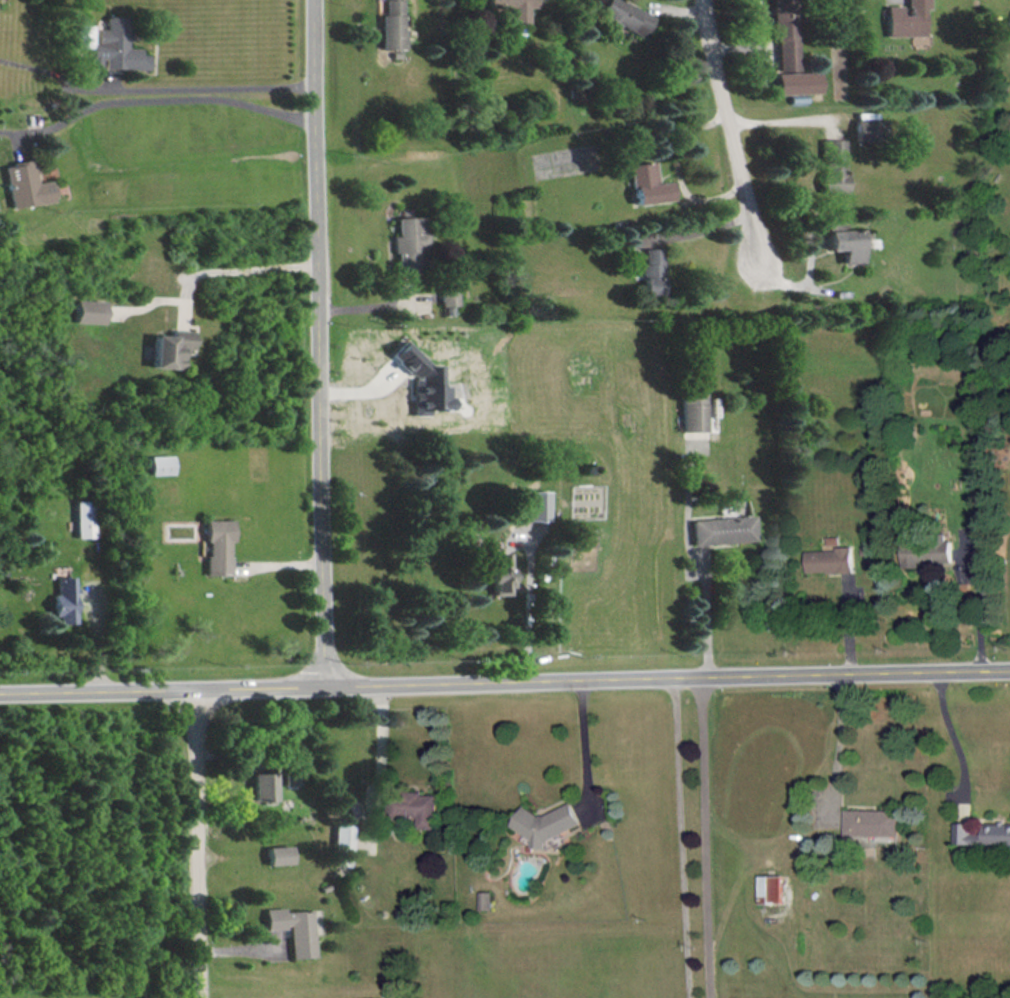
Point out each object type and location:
building: (625, 15)
building: (906, 19)
building: (392, 26)
building: (786, 35)
building: (111, 44)
building: (797, 82)
road: (154, 88)
road: (165, 99)
road: (781, 120)
road: (728, 127)
building: (867, 129)
building: (832, 165)
building: (27, 184)
building: (647, 184)
building: (407, 240)
building: (843, 241)
road: (236, 271)
building: (652, 271)
building: (447, 294)
road: (373, 305)
building: (87, 310)
road: (317, 343)
building: (169, 347)
building: (420, 381)
building: (691, 411)
building: (159, 464)
building: (533, 504)
building: (82, 518)
building: (719, 529)
building: (584, 539)
building: (215, 545)
building: (929, 551)
building: (831, 559)
building: (495, 573)
building: (61, 599)
road: (528, 613)
road: (706, 620)
road: (505, 683)
road: (956, 737)
road: (583, 740)
road: (840, 741)
road: (379, 744)
building: (289, 778)
building: (260, 787)
building: (419, 807)
building: (872, 821)
building: (548, 823)
building: (982, 833)
building: (341, 837)
road: (680, 838)
road: (703, 838)
road: (193, 844)
building: (277, 854)
building: (771, 888)
building: (485, 899)
building: (295, 927)

